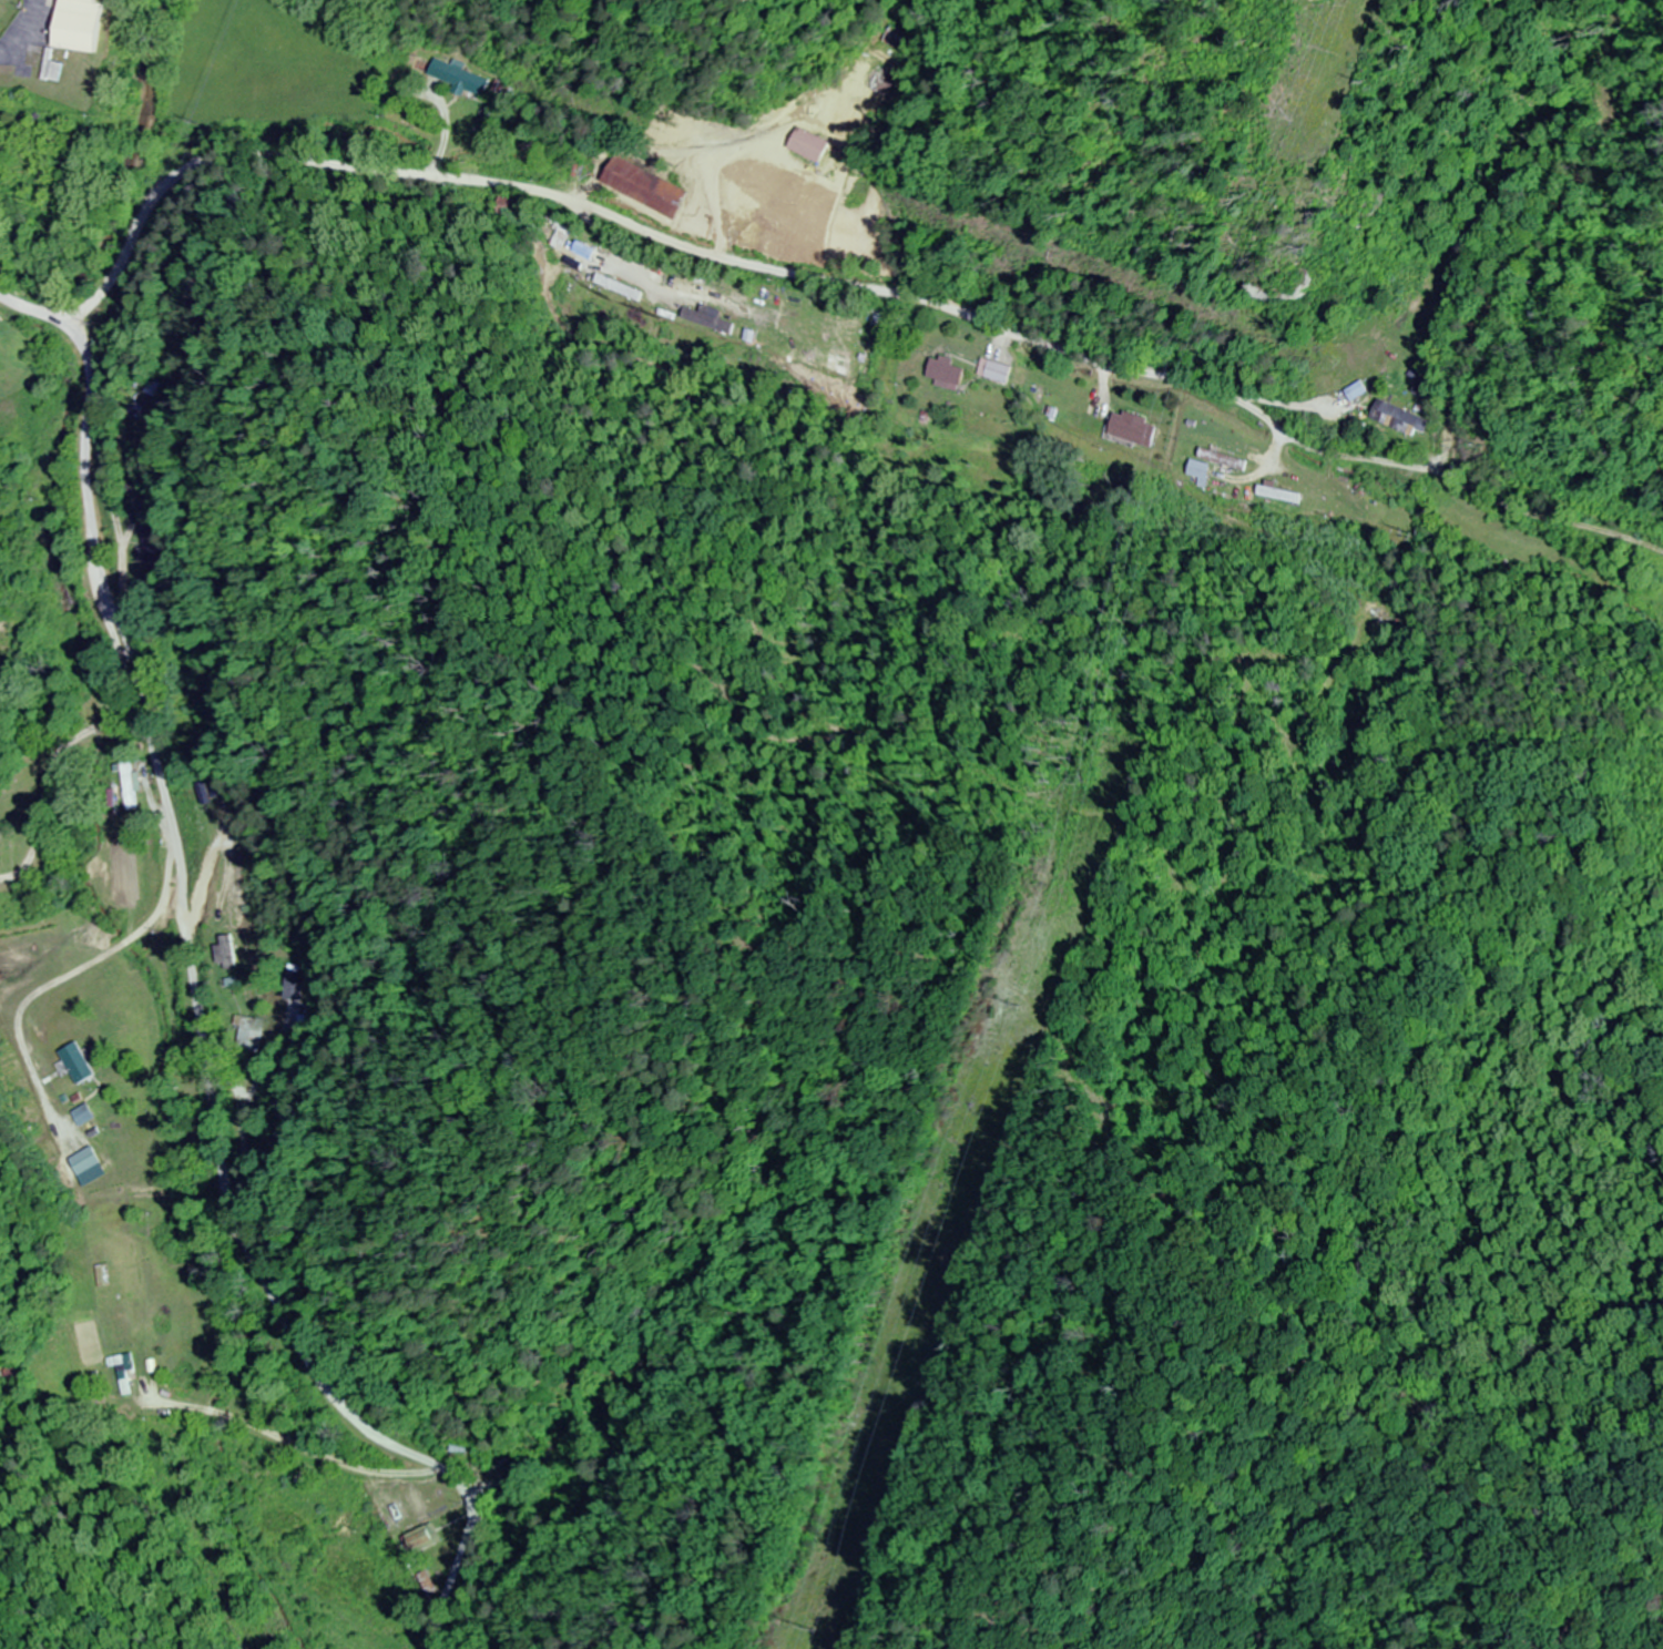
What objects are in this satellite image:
building: (74, 26)
building: (897, 38)
building: (873, 70)
building: (465, 80)
building: (807, 145)
building: (655, 194)
building: (512, 207)
road: (838, 283)
building: (992, 371)
building: (942, 373)
building: (1356, 393)
building: (1399, 419)
building: (1129, 434)
building: (1194, 469)
building: (1275, 495)
building: (132, 787)
building: (300, 986)
road: (197, 991)
building: (253, 1035)
building: (75, 1063)
building: (82, 1116)
building: (82, 1161)
building: (101, 1276)
building: (122, 1372)
building: (419, 1540)
road: (448, 1582)
power tower: (829, 1628)

